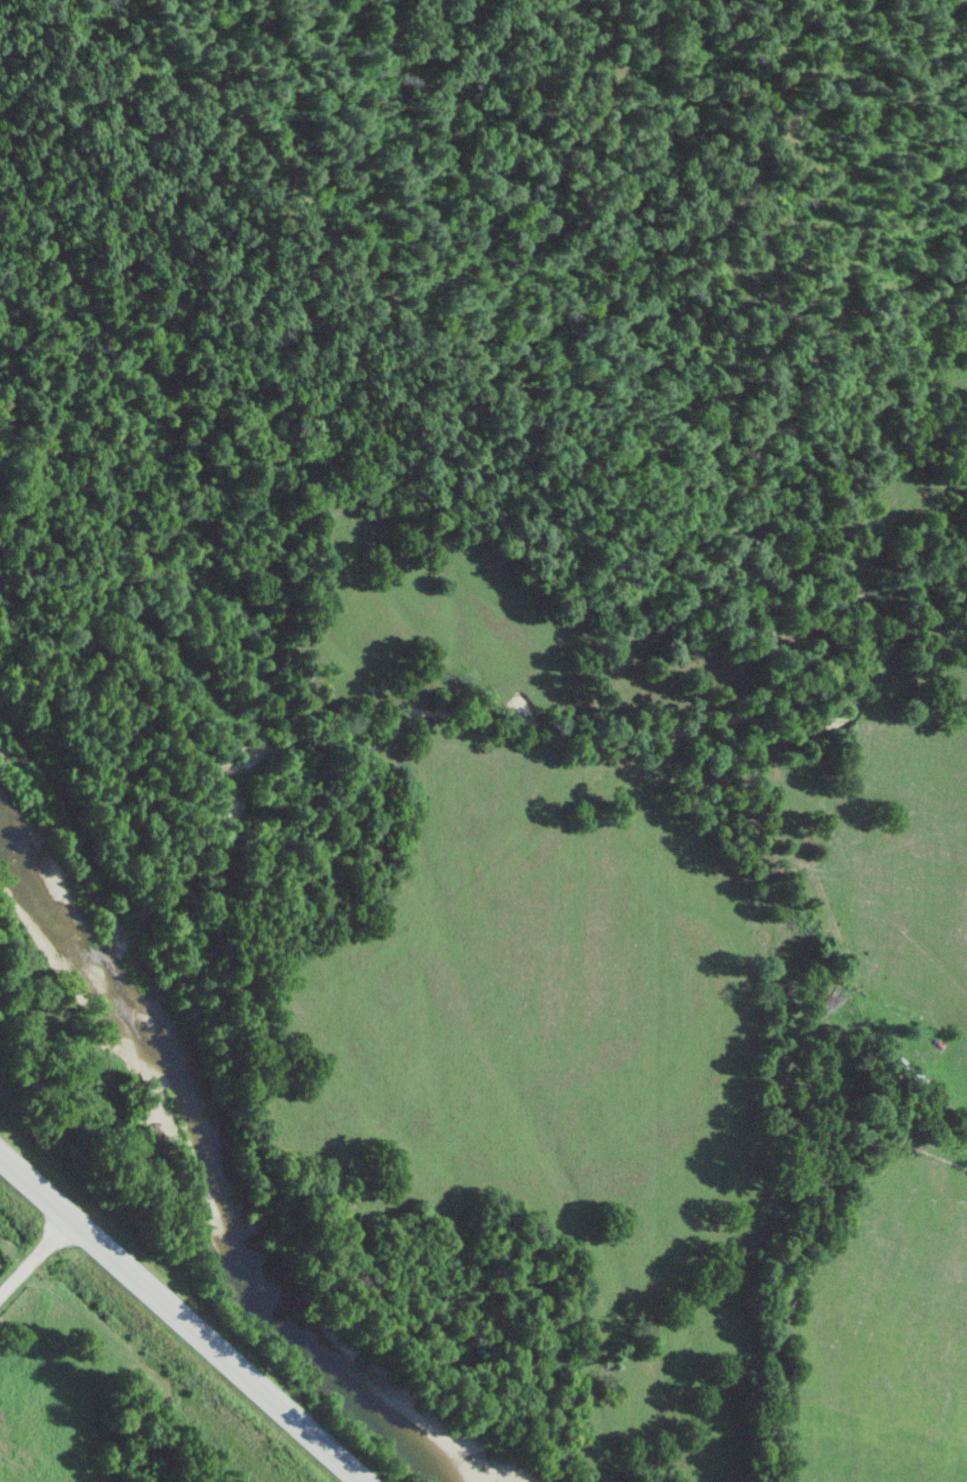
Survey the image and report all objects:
river: (215, 1164)
road: (36, 1259)
road: (182, 1319)

